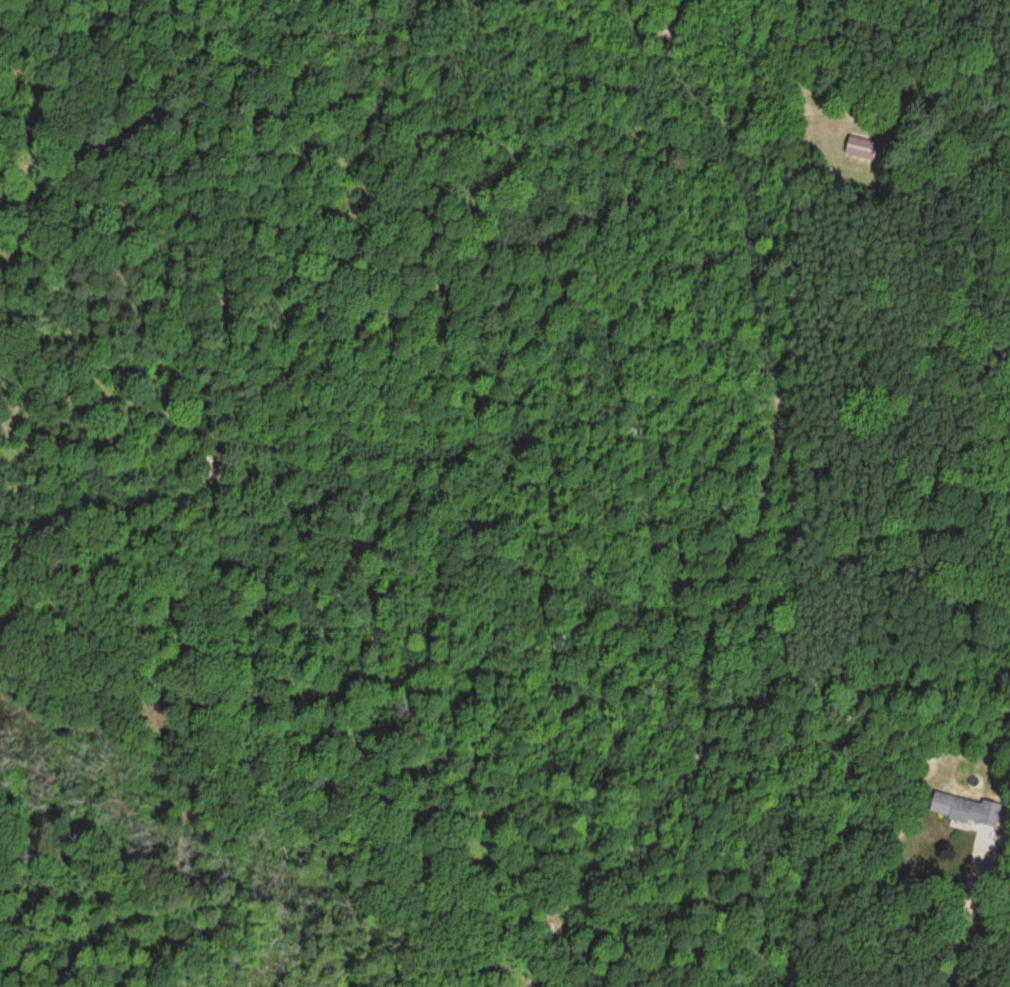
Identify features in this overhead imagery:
building: (863, 147)
building: (967, 811)

